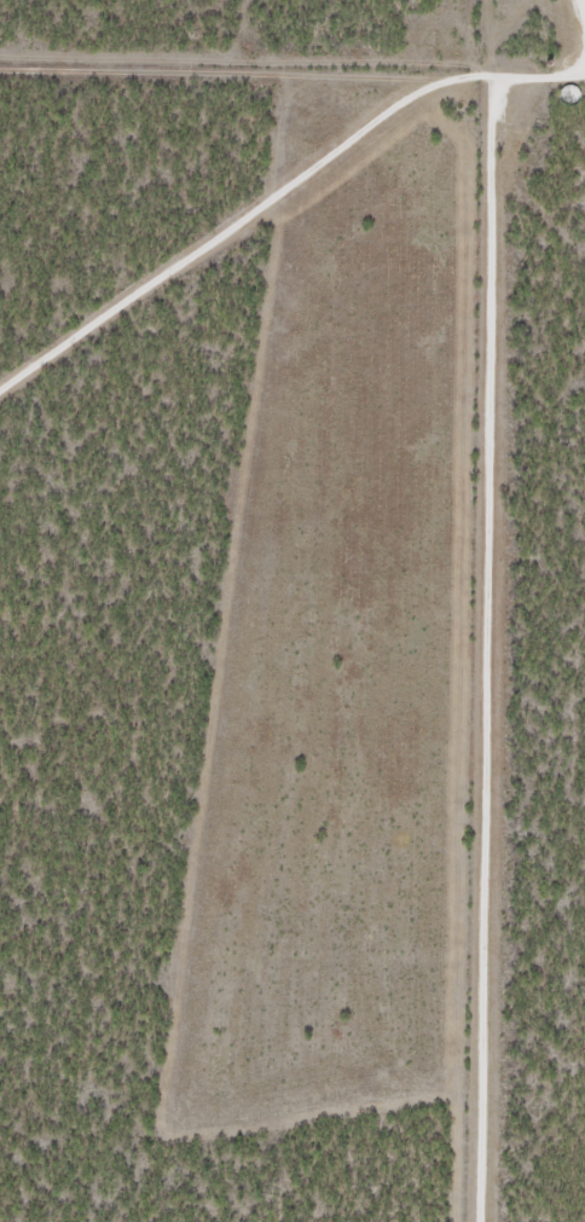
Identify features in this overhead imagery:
road: (583, 8)
road: (278, 192)

